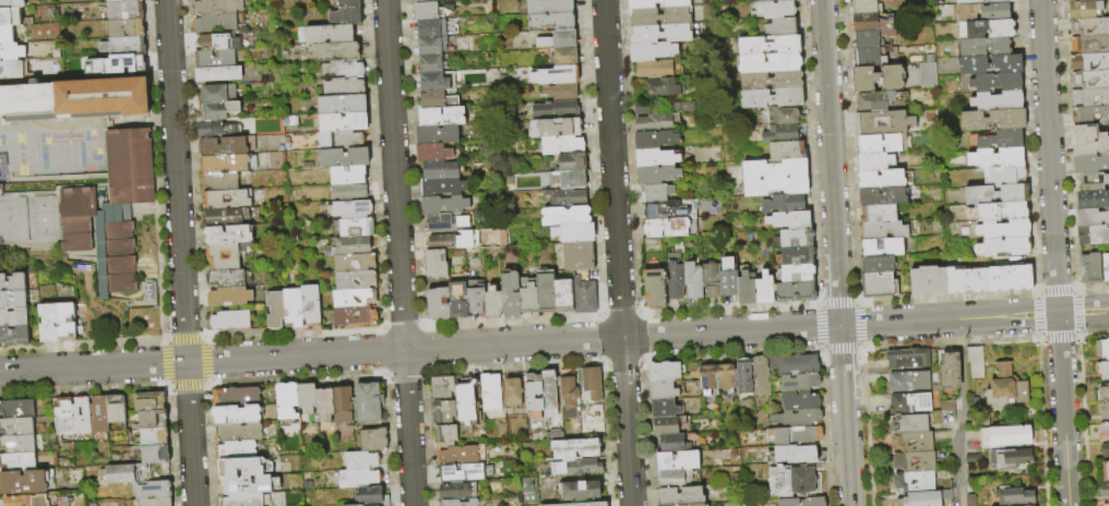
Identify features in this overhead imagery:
building: (421, 0)
building: (762, 0)
building: (1076, 0)
building: (119, 1)
building: (978, 1)
building: (343, 2)
building: (10, 3)
building: (641, 4)
building: (544, 5)
building: (216, 7)
building: (863, 7)
building: (774, 8)
building: (1084, 9)
building: (121, 11)
building: (983, 11)
building: (419, 12)
building: (342, 15)
building: (659, 15)
building: (8, 16)
building: (545, 21)
building: (864, 22)
building: (214, 23)
building: (780, 26)
building: (1089, 26)
building: (122, 28)
building: (989, 28)
building: (422, 29)
building: (660, 33)
building: (4, 35)
building: (325, 35)
building: (866, 39)
building: (218, 40)
building: (553, 40)
building: (1090, 44)
building: (768, 45)
building: (119, 46)
building: (983, 47)
building: (424, 48)
building: (652, 50)
building: (9, 52)
building: (332, 52)
building: (868, 57)
building: (214, 58)
building: (560, 58)
building: (1090, 61)
building: (768, 62)
building: (123, 63)
building: (989, 63)
building: (425, 64)
building: (654, 69)
building: (9, 70)
building: (338, 70)
building: (218, 72)
building: (926, 74)
building: (550, 76)
building: (877, 77)
building: (771, 80)
building: (1090, 80)
building: (995, 81)
building: (428, 83)
building: (663, 86)
building: (341, 87)
building: (217, 93)
building: (556, 93)
building: (103, 97)
building: (771, 97)
building: (1090, 97)
building: (427, 100)
building: (873, 100)
building: (997, 100)
building: (27, 103)
building: (337, 106)
building: (217, 109)
building: (551, 110)
building: (780, 116)
building: (1090, 116)
building: (436, 117)
building: (991, 118)
building: (651, 120)
building: (338, 123)
building: (881, 123)
building: (211, 128)
building: (551, 129)
building: (779, 133)
building: (432, 135)
building: (1001, 137)
building: (654, 138)
building: (338, 141)
building: (1089, 141)
building: (883, 143)
building: (223, 145)
building: (557, 146)
park: (51, 149)
building: (786, 149)
building: (427, 154)
road: (1049, 156)
building: (995, 157)
building: (339, 158)
building: (655, 158)
building: (873, 160)
road: (1066, 161)
building: (567, 162)
road: (830, 162)
building: (224, 164)
building: (1090, 164)
building: (127, 166)
building: (436, 171)
building: (656, 174)
building: (1003, 174)
building: (344, 176)
building: (774, 177)
building: (884, 178)
building: (565, 180)
building: (1092, 180)
building: (219, 181)
building: (437, 188)
building: (656, 192)
building: (343, 193)
building: (995, 193)
building: (882, 195)
building: (561, 197)
building: (226, 198)
building: (1093, 198)
building: (783, 203)
building: (438, 205)
building: (347, 210)
building: (664, 210)
building: (997, 210)
building: (878, 213)
building: (223, 216)
building: (560, 216)
building: (1093, 217)
park: (27, 218)
building: (72, 218)
building: (788, 219)
building: (440, 224)
building: (666, 227)
building: (353, 229)
building: (1003, 229)
building: (883, 230)
building: (227, 233)
building: (568, 233)
building: (1093, 234)
building: (796, 237)
building: (448, 242)
building: (1003, 245)
building: (348, 246)
building: (881, 246)
building: (110, 250)
road: (617, 252)
road: (179, 253)
road: (398, 253)
building: (223, 255)
building: (796, 255)
building: (573, 256)
building: (430, 257)
building: (349, 264)
building: (877, 264)
building: (1090, 268)
building: (1105, 268)
building: (430, 272)
building: (797, 273)
building: (675, 276)
building: (727, 277)
building: (1010, 277)
building: (225, 278)
building: (692, 279)
building: (711, 279)
building: (927, 279)
building: (966, 279)
building: (350, 281)
building: (12, 282)
building: (878, 285)
building: (654, 287)
building: (763, 288)
building: (746, 289)
building: (795, 291)
building: (546, 292)
building: (510, 294)
building: (563, 294)
building: (228, 296)
building: (585, 297)
building: (349, 299)
building: (458, 299)
building: (528, 299)
building: (11, 300)
building: (476, 300)
building: (492, 302)
building: (438, 303)
building: (310, 305)
building: (291, 308)
building: (274, 310)
road: (1083, 312)
building: (12, 317)
building: (350, 317)
building: (229, 320)
road: (947, 320)
building: (53, 324)
building: (12, 335)
road: (1036, 338)
building: (1101, 348)
road: (419, 349)
building: (906, 358)
building: (975, 363)
building: (794, 364)
building: (1102, 370)
building: (664, 371)
building: (947, 372)
building: (742, 375)
building: (725, 376)
building: (759, 376)
building: (707, 377)
building: (907, 381)
building: (589, 382)
building: (798, 382)
building: (1005, 387)
building: (442, 388)
building: (663, 390)
building: (489, 393)
building: (512, 393)
building: (1104, 393)
building: (549, 394)
building: (533, 395)
building: (235, 396)
building: (306, 397)
building: (569, 398)
building: (148, 400)
building: (286, 400)
building: (465, 400)
building: (799, 400)
building: (368, 402)
building: (907, 402)
building: (323, 403)
building: (342, 405)
building: (16, 408)
building: (664, 408)
building: (112, 410)
road: (1062, 410)
building: (1104, 410)
building: (442, 412)
road: (961, 412)
building: (236, 414)
road: (844, 415)
building: (79, 417)
building: (95, 417)
building: (61, 418)
building: (796, 418)
building: (152, 419)
building: (907, 422)
building: (16, 425)
building: (665, 425)
building: (1104, 431)
building: (237, 432)
building: (553, 435)
building: (796, 435)
building: (1004, 435)
building: (152, 436)
building: (444, 436)
building: (372, 441)
building: (671, 442)
building: (910, 442)
building: (16, 443)
building: (574, 448)
building: (1105, 448)
building: (236, 449)
building: (154, 454)
building: (794, 454)
building: (457, 456)
building: (1009, 458)
building: (17, 460)
building: (676, 460)
building: (910, 460)
building: (360, 461)
building: (242, 467)
building: (576, 467)
building: (1105, 471)
building: (127, 472)
building: (457, 473)
building: (675, 478)
building: (357, 479)
building: (794, 480)
building: (26, 481)
building: (913, 481)
building: (249, 484)
building: (151, 490)
building: (527, 490)
building: (580, 490)
building: (1104, 490)
building: (456, 491)
building: (680, 495)
building: (370, 496)
building: (1013, 496)
building: (28, 499)
building: (241, 499)
building: (918, 499)
building: (152, 502)
building: (802, 502)
building: (458, 503)
building: (579, 504)
building: (1106, 504)
building: (361, 505)
building: (683, 505)

